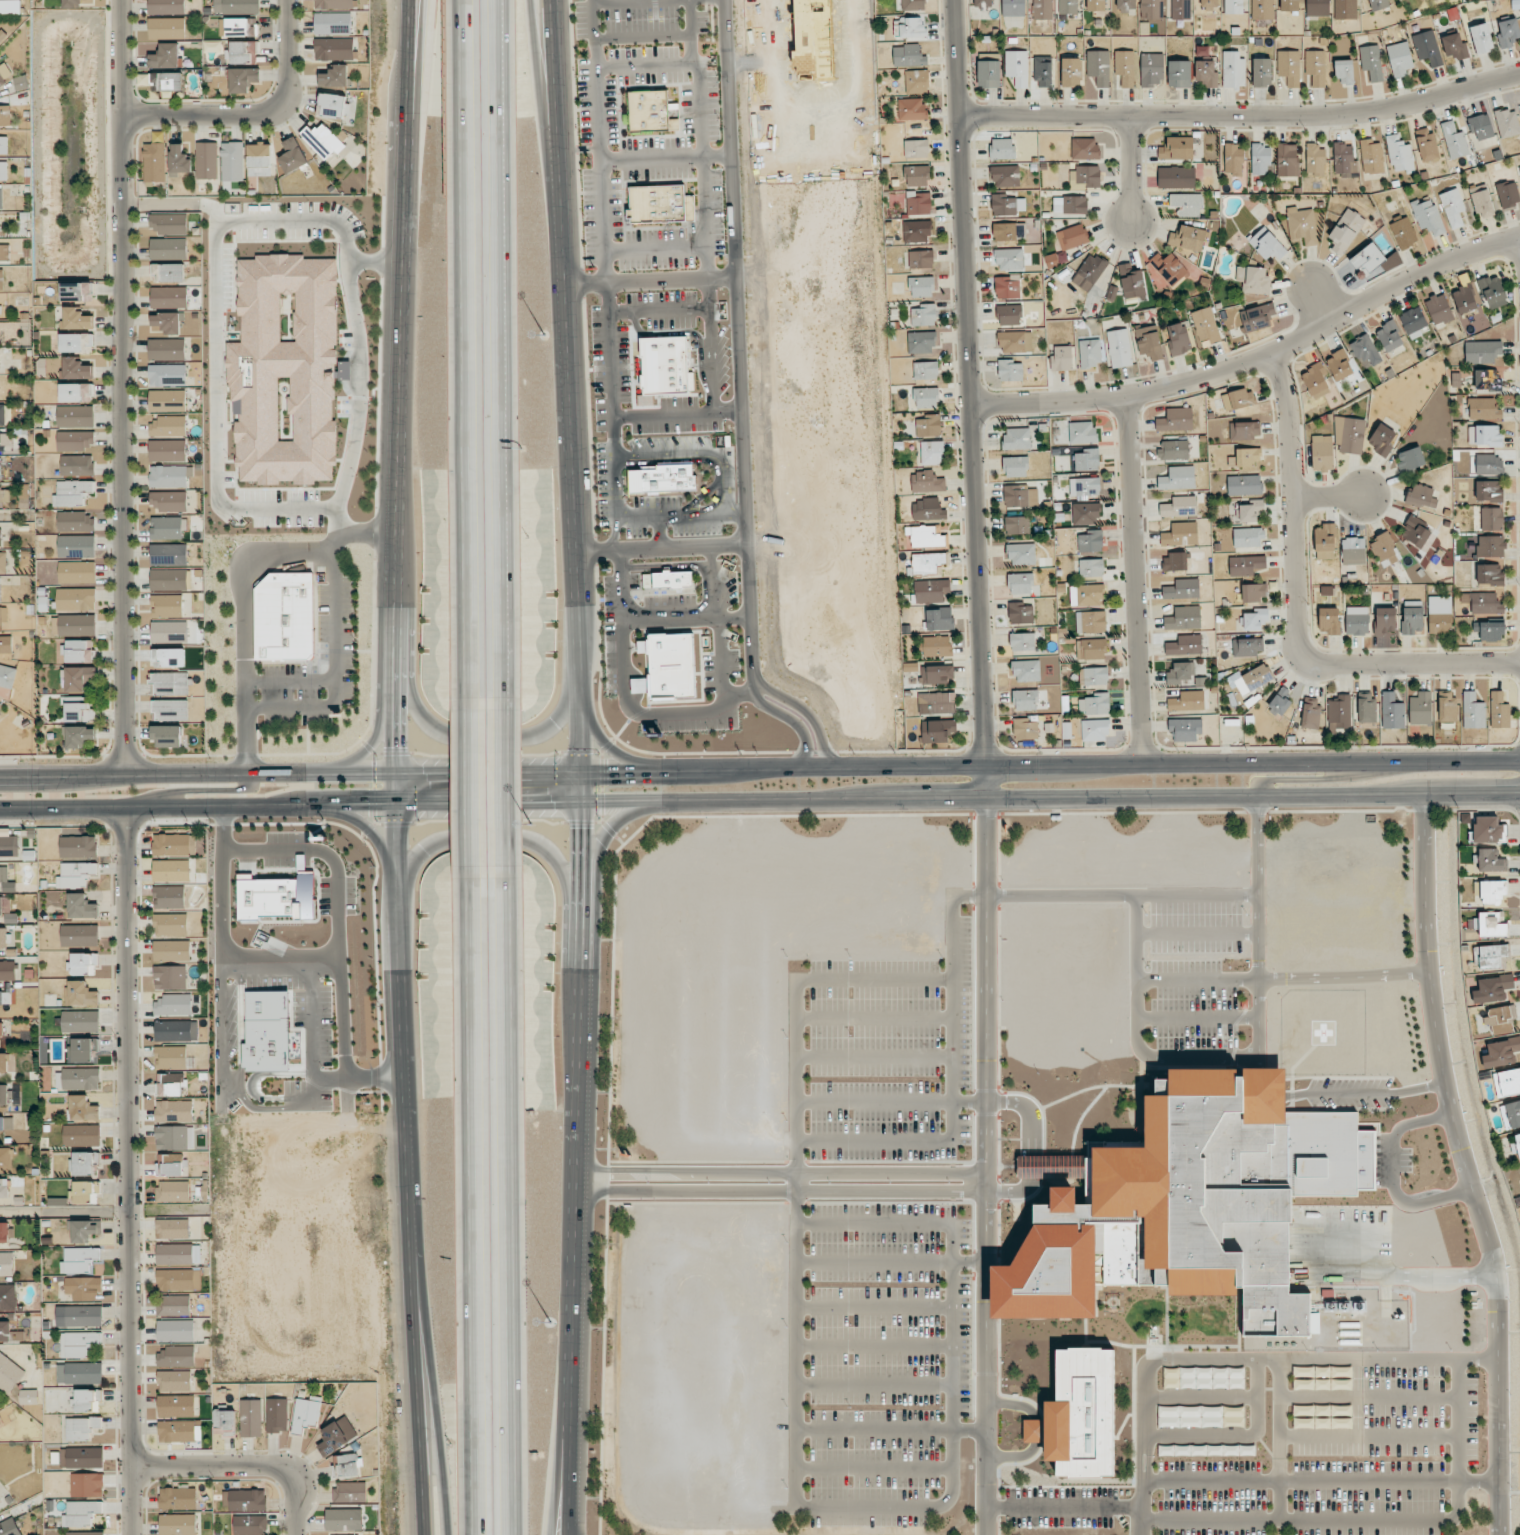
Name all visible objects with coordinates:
road: (621, 1)
building: (75, 3)
building: (984, 3)
building: (333, 4)
building: (1209, 4)
building: (1378, 4)
building: (236, 5)
building: (913, 5)
building: (1096, 5)
building: (1125, 5)
building: (1289, 5)
building: (10, 7)
building: (166, 7)
building: (1014, 7)
building: (1068, 7)
building: (1233, 7)
building: (1317, 7)
building: (1042, 9)
building: (1151, 9)
building: (1181, 9)
building: (1262, 9)
building: (1345, 9)
building: (332, 23)
building: (166, 27)
building: (240, 27)
building: (910, 27)
road: (690, 30)
building: (1508, 33)
road: (643, 36)
building: (1481, 38)
building: (1454, 45)
building: (334, 48)
building: (1427, 48)
building: (243, 52)
building: (165, 56)
building: (908, 56)
building: (1399, 58)
building: (1371, 62)
building: (1017, 67)
building: (1098, 67)
building: (1126, 67)
building: (1289, 67)
building: (1315, 67)
building: (1152, 69)
building: (1233, 69)
building: (1043, 71)
building: (1071, 72)
building: (1262, 72)
building: (1344, 72)
building: (989, 73)
building: (1206, 73)
building: (1179, 74)
building: (334, 76)
building: (243, 79)
building: (2, 80)
building: (917, 80)
building: (162, 81)
building: (332, 105)
road: (408, 109)
road: (421, 109)
building: (911, 109)
building: (650, 112)
road: (253, 113)
building: (5, 115)
road: (1241, 115)
road: (701, 121)
road: (546, 123)
road: (556, 123)
building: (1507, 123)
building: (1481, 127)
building: (322, 140)
road: (599, 140)
building: (1454, 140)
building: (3, 145)
building: (1427, 145)
building: (916, 148)
building: (1084, 148)
building: (1176, 148)
building: (1002, 149)
building: (1400, 154)
building: (292, 155)
building: (1371, 157)
road: (664, 158)
building: (1344, 158)
building: (179, 159)
building: (259, 159)
building: (1261, 159)
building: (206, 160)
building: (1233, 160)
building: (1287, 160)
building: (1315, 160)
building: (232, 161)
building: (154, 162)
road: (1130, 168)
building: (1519, 168)
building: (3, 170)
building: (917, 175)
building: (1005, 176)
building: (1084, 177)
building: (1176, 177)
building: (1508, 194)
building: (1, 196)
building: (919, 203)
building: (1482, 203)
building: (660, 204)
building: (1186, 204)
building: (1008, 205)
building: (1070, 205)
building: (1453, 209)
building: (1427, 215)
building: (169, 223)
building: (1302, 225)
building: (1345, 230)
building: (917, 231)
building: (1009, 231)
building: (1404, 233)
building: (1072, 236)
building: (1188, 238)
road: (1519, 239)
building: (1266, 243)
building: (168, 247)
road: (655, 249)
building: (4, 252)
building: (921, 259)
building: (1009, 259)
building: (1368, 259)
building: (1167, 268)
building: (168, 272)
building: (1089, 272)
building: (1, 279)
road: (648, 280)
building: (1253, 280)
building: (1132, 282)
building: (921, 287)
building: (77, 291)
building: (1493, 292)
building: (169, 297)
building: (1465, 299)
road: (1319, 301)
building: (0, 309)
building: (1439, 309)
building: (924, 315)
building: (1009, 315)
building: (1257, 317)
building: (77, 319)
building: (1413, 322)
building: (166, 323)
building: (1205, 326)
building: (1389, 336)
building: (1178, 339)
building: (76, 342)
building: (922, 342)
building: (1015, 342)
building: (1149, 342)
road: (736, 344)
building: (1119, 348)
building: (166, 349)
road: (503, 349)
road: (462, 350)
building: (1365, 351)
building: (1482, 351)
building: (1090, 353)
building: (1062, 358)
road: (1255, 358)
building: (665, 365)
building: (1339, 365)
building: (77, 369)
building: (285, 370)
building: (926, 370)
building: (1010, 370)
building: (167, 375)
building: (1487, 380)
building: (1316, 381)
road: (122, 387)
building: (76, 392)
building: (927, 397)
road: (969, 399)
building: (1238, 399)
building: (167, 400)
building: (1483, 408)
building: (2, 414)
road: (623, 414)
building: (75, 416)
building: (1175, 419)
building: (928, 425)
building: (168, 426)
building: (1244, 430)
building: (1082, 432)
building: (1349, 434)
building: (1484, 436)
building: (1017, 438)
building: (4, 439)
building: (1382, 439)
building: (75, 441)
building: (167, 450)
building: (1173, 450)
road: (702, 452)
building: (932, 452)
building: (1322, 453)
building: (1245, 458)
building: (1410, 459)
building: (1087, 460)
road: (702, 461)
building: (1488, 464)
building: (77, 465)
building: (1015, 466)
building: (0, 471)
building: (170, 476)
building: (1177, 478)
building: (663, 479)
building: (927, 482)
building: (1244, 485)
building: (1084, 486)
building: (1488, 491)
building: (72, 492)
building: (24, 493)
building: (4, 495)
road: (1327, 496)
building: (1421, 496)
building: (1020, 497)
building: (168, 501)
road: (712, 505)
building: (1179, 507)
building: (927, 509)
building: (1251, 510)
building: (1086, 513)
road: (681, 516)
building: (1491, 519)
building: (76, 521)
building: (1017, 525)
building: (166, 528)
building: (1415, 532)
road: (661, 533)
building: (0, 534)
building: (1180, 534)
road: (360, 535)
road: (614, 535)
building: (924, 536)
building: (1248, 537)
building: (1090, 540)
building: (1325, 541)
building: (76, 546)
building: (1490, 546)
road: (659, 548)
building: (1385, 549)
building: (1353, 551)
building: (169, 554)
building: (1021, 554)
road: (595, 557)
building: (3, 562)
building: (1174, 562)
building: (926, 563)
building: (1246, 565)
road: (666, 566)
building: (1091, 568)
building: (77, 572)
building: (1489, 574)
building: (168, 579)
building: (672, 579)
road: (1133, 580)
road: (712, 582)
building: (1021, 583)
building: (0, 588)
building: (1180, 589)
building: (932, 590)
building: (1254, 592)
building: (1086, 595)
building: (76, 599)
building: (1485, 603)
building: (167, 605)
building: (1020, 613)
road: (1295, 613)
building: (1440, 615)
building: (3, 616)
building: (284, 617)
building: (1412, 617)
road: (686, 618)
building: (1183, 618)
building: (939, 619)
building: (1255, 619)
building: (1385, 620)
building: (1329, 621)
building: (1356, 621)
building: (1091, 622)
building: (74, 625)
road: (245, 625)
building: (1489, 630)
building: (169, 631)
building: (1022, 641)
building: (6, 644)
building: (1184, 645)
building: (937, 646)
building: (1247, 646)
building: (1091, 649)
building: (79, 651)
building: (168, 657)
building: (670, 665)
building: (1026, 670)
road: (334, 672)
building: (1180, 673)
building: (936, 674)
building: (7, 676)
building: (1093, 676)
building: (79, 677)
building: (1250, 679)
road: (290, 681)
building: (170, 683)
building: (639, 685)
road: (398, 689)
road: (739, 692)
building: (1025, 700)
building: (1187, 701)
building: (936, 703)
building: (1095, 704)
building: (1280, 704)
building: (1366, 707)
building: (1447, 707)
building: (1420, 708)
building: (78, 710)
building: (170, 710)
building: (1499, 710)
building: (1338, 711)
building: (1392, 711)
building: (1473, 711)
road: (642, 713)
road: (807, 713)
building: (1310, 714)
road: (793, 721)
road: (621, 729)
building: (1025, 729)
building: (1185, 729)
building: (937, 730)
building: (1094, 730)
building: (79, 736)
building: (166, 736)
road: (488, 743)
traffic signals: (397, 745)
road: (369, 746)
road: (608, 748)
road: (1163, 764)
road: (694, 772)
road: (162, 773)
traffic signals: (433, 774)
road: (452, 774)
traffic signals: (608, 774)
road: (1316, 779)
road: (191, 790)
road: (507, 791)
road: (466, 792)
road: (1087, 798)
road: (440, 802)
traffic signals: (543, 802)
traffic signals: (363, 803)
road: (176, 806)
road: (63, 807)
road: (580, 823)
road: (610, 825)
road: (366, 826)
traffic signals: (581, 829)
building: (1488, 830)
road: (492, 838)
building: (174, 844)
building: (9, 845)
building: (78, 846)
building: (1491, 860)
building: (171, 870)
building: (75, 874)
building: (6, 880)
building: (1492, 891)
road: (1105, 895)
building: (169, 896)
building: (277, 897)
building: (81, 906)
building: (170, 924)
road: (1257, 927)
road: (1197, 932)
building: (80, 935)
building: (3, 937)
road: (225, 937)
road: (340, 943)
building: (171, 950)
building: (1489, 957)
building: (83, 963)
building: (7, 970)
building: (170, 977)
road: (1341, 979)
road: (874, 980)
road: (1197, 980)
building: (1492, 988)
building: (80, 994)
building: (5, 997)
building: (173, 1005)
road: (1197, 1017)
building: (1500, 1018)
road: (874, 1020)
building: (80, 1021)
building: (176, 1031)
building: (267, 1031)
road: (1137, 1031)
helipad: (1323, 1033)
building: (83, 1049)
building: (1501, 1052)
building: (171, 1056)
road: (874, 1059)
building: (78, 1078)
building: (1507, 1082)
building: (170, 1084)
road: (1367, 1094)
building: (5, 1095)
road: (953, 1097)
road: (890, 1103)
building: (82, 1108)
building: (174, 1111)
building: (1511, 1114)
building: (6, 1124)
building: (81, 1134)
building: (174, 1137)
building: (1, 1140)
building: (1128, 1144)
building: (1516, 1144)
building: (8, 1158)
building: (83, 1163)
building: (170, 1165)
road: (1465, 1165)
road: (986, 1167)
road: (129, 1170)
road: (782, 1174)
road: (1393, 1175)
road: (1032, 1183)
building: (5, 1187)
building: (173, 1191)
building: (86, 1192)
road: (781, 1195)
building: (1190, 1204)
road: (470, 1209)
road: (509, 1209)
building: (172, 1228)
building: (85, 1230)
road: (795, 1243)
building: (174, 1254)
building: (79, 1259)
building: (6, 1264)
road: (890, 1264)
road: (1404, 1276)
building: (179, 1279)
building: (83, 1287)
building: (8, 1297)
building: (173, 1305)
road: (873, 1309)
building: (79, 1316)
building: (5, 1330)
building: (176, 1330)
building: (78, 1343)
road: (417, 1347)
road: (433, 1347)
road: (874, 1348)
building: (176, 1356)
road: (1262, 1360)
road: (953, 1363)
building: (1322, 1371)
building: (79, 1372)
building: (9, 1373)
building: (1204, 1378)
building: (174, 1380)
building: (1322, 1384)
road: (874, 1386)
building: (28, 1397)
road: (1201, 1397)
road: (1369, 1398)
building: (88, 1400)
building: (176, 1405)
building: (1303, 1410)
building: (1337, 1410)
building: (306, 1413)
building: (1082, 1414)
building: (277, 1415)
building: (1201, 1416)
building: (0, 1418)
building: (251, 1418)
building: (81, 1428)
building: (177, 1431)
building: (1031, 1431)
road: (890, 1432)
road: (1035, 1433)
road: (1369, 1435)
road: (1237, 1436)
building: (333, 1438)
road: (1280, 1440)
building: (1206, 1450)
building: (82, 1457)
building: (347, 1466)
road: (246, 1468)
road: (564, 1468)
road: (569, 1468)
road: (874, 1470)
road: (1302, 1482)
road: (1478, 1482)
building: (87, 1484)
building: (350, 1492)
building: (177, 1498)
building: (244, 1500)
road: (1063, 1508)
road: (1140, 1508)
building: (81, 1513)
building: (344, 1519)
road: (1376, 1521)
building: (177, 1524)
building: (250, 1524)
building: (9, 1527)
building: (85, 1533)

